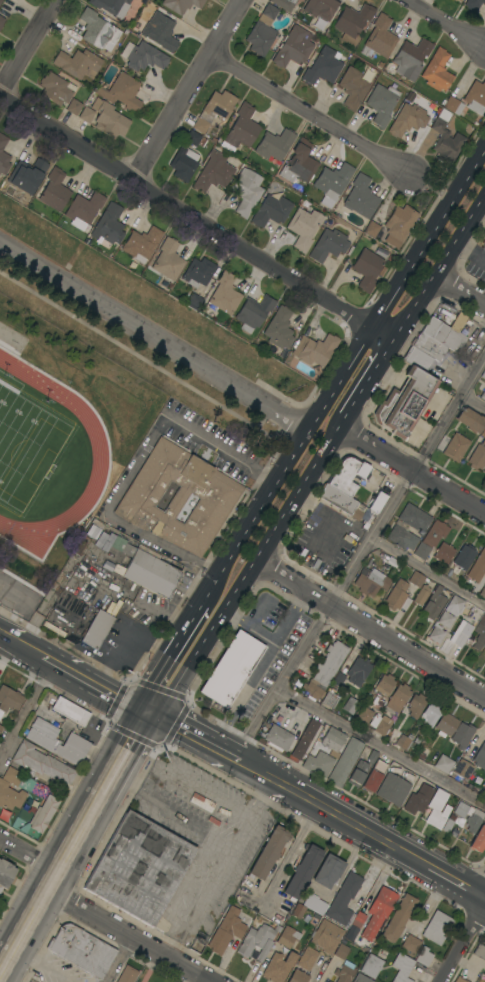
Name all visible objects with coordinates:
building: (454, 0)
building: (1, 1)
building: (459, 1)
building: (284, 4)
building: (473, 4)
building: (181, 5)
building: (111, 6)
building: (320, 8)
building: (1, 21)
building: (352, 22)
road: (446, 23)
building: (97, 31)
building: (160, 32)
building: (262, 32)
building: (380, 37)
road: (25, 43)
building: (293, 47)
building: (143, 56)
building: (410, 58)
building: (78, 63)
building: (323, 67)
building: (437, 71)
building: (352, 87)
building: (55, 88)
road: (190, 89)
building: (122, 92)
building: (475, 97)
building: (381, 103)
building: (452, 105)
building: (73, 107)
building: (214, 110)
building: (86, 114)
road: (309, 114)
building: (108, 119)
building: (407, 120)
building: (241, 129)
building: (192, 138)
building: (445, 139)
building: (274, 145)
building: (3, 156)
building: (299, 163)
building: (183, 164)
building: (213, 172)
building: (27, 175)
building: (332, 183)
building: (54, 190)
building: (246, 192)
building: (360, 197)
building: (84, 208)
building: (271, 211)
road: (186, 212)
building: (398, 225)
building: (108, 226)
building: (303, 228)
building: (371, 229)
building: (483, 233)
road: (428, 236)
building: (141, 244)
building: (328, 245)
road: (470, 250)
building: (380, 252)
building: (168, 260)
road: (438, 266)
building: (366, 269)
building: (199, 273)
road: (460, 288)
building: (224, 295)
building: (193, 302)
building: (253, 313)
building: (279, 329)
building: (446, 332)
road: (381, 334)
road: (152, 336)
building: (429, 346)
building: (314, 349)
building: (417, 359)
road: (375, 365)
building: (483, 374)
building: (483, 395)
road: (473, 400)
building: (403, 403)
building: (470, 420)
building: (482, 434)
park: (25, 446)
building: (455, 447)
track: (98, 454)
building: (477, 456)
road: (135, 465)
road: (410, 470)
building: (347, 474)
road: (276, 476)
building: (177, 498)
building: (376, 501)
building: (340, 502)
road: (284, 514)
building: (414, 517)
building: (367, 518)
building: (93, 531)
building: (402, 538)
building: (430, 539)
building: (443, 553)
road: (358, 557)
building: (464, 557)
building: (140, 565)
road: (428, 571)
building: (479, 571)
building: (416, 579)
building: (370, 581)
parking lot: (4, 583)
building: (421, 594)
building: (397, 596)
building: (434, 603)
building: (455, 604)
road: (12, 607)
building: (445, 619)
building: (54, 628)
road: (247, 628)
building: (97, 629)
road: (370, 630)
building: (477, 632)
building: (436, 634)
road: (21, 645)
building: (484, 649)
road: (48, 661)
building: (231, 669)
road: (259, 669)
building: (325, 670)
building: (358, 671)
road: (176, 673)
building: (384, 685)
road: (102, 689)
building: (9, 698)
building: (329, 699)
building: (397, 699)
building: (350, 705)
building: (415, 705)
building: (70, 711)
road: (27, 713)
traffic signals: (150, 714)
building: (364, 715)
building: (429, 715)
building: (380, 724)
building: (446, 725)
building: (1, 728)
building: (41, 733)
building: (461, 735)
road: (193, 737)
building: (278, 738)
building: (305, 739)
building: (333, 741)
building: (403, 741)
road: (380, 743)
building: (71, 749)
building: (480, 755)
road: (125, 756)
building: (372, 756)
building: (345, 762)
building: (40, 763)
building: (318, 763)
building: (443, 764)
building: (461, 770)
building: (357, 773)
building: (373, 776)
building: (10, 789)
building: (392, 789)
building: (484, 791)
building: (418, 798)
building: (437, 809)
building: (43, 814)
road: (332, 815)
building: (474, 817)
road: (171, 818)
building: (478, 840)
building: (268, 853)
road: (30, 854)
road: (287, 857)
building: (139, 868)
road: (222, 871)
building: (328, 871)
building: (302, 872)
building: (6, 874)
road: (457, 886)
road: (49, 888)
building: (344, 900)
building: (315, 905)
building: (298, 911)
building: (378, 912)
building: (399, 918)
building: (358, 920)
building: (437, 928)
building: (221, 935)
road: (128, 936)
building: (326, 936)
building: (257, 941)
road: (462, 942)
building: (410, 944)
building: (81, 950)
building: (341, 951)
building: (479, 951)
building: (291, 953)
building: (423, 956)
road: (116, 959)
building: (307, 959)
building: (371, 966)
building: (402, 967)
building: (344, 972)
building: (127, 975)
building: (298, 976)
building: (360, 979)
building: (459, 980)
building: (328, 981)

